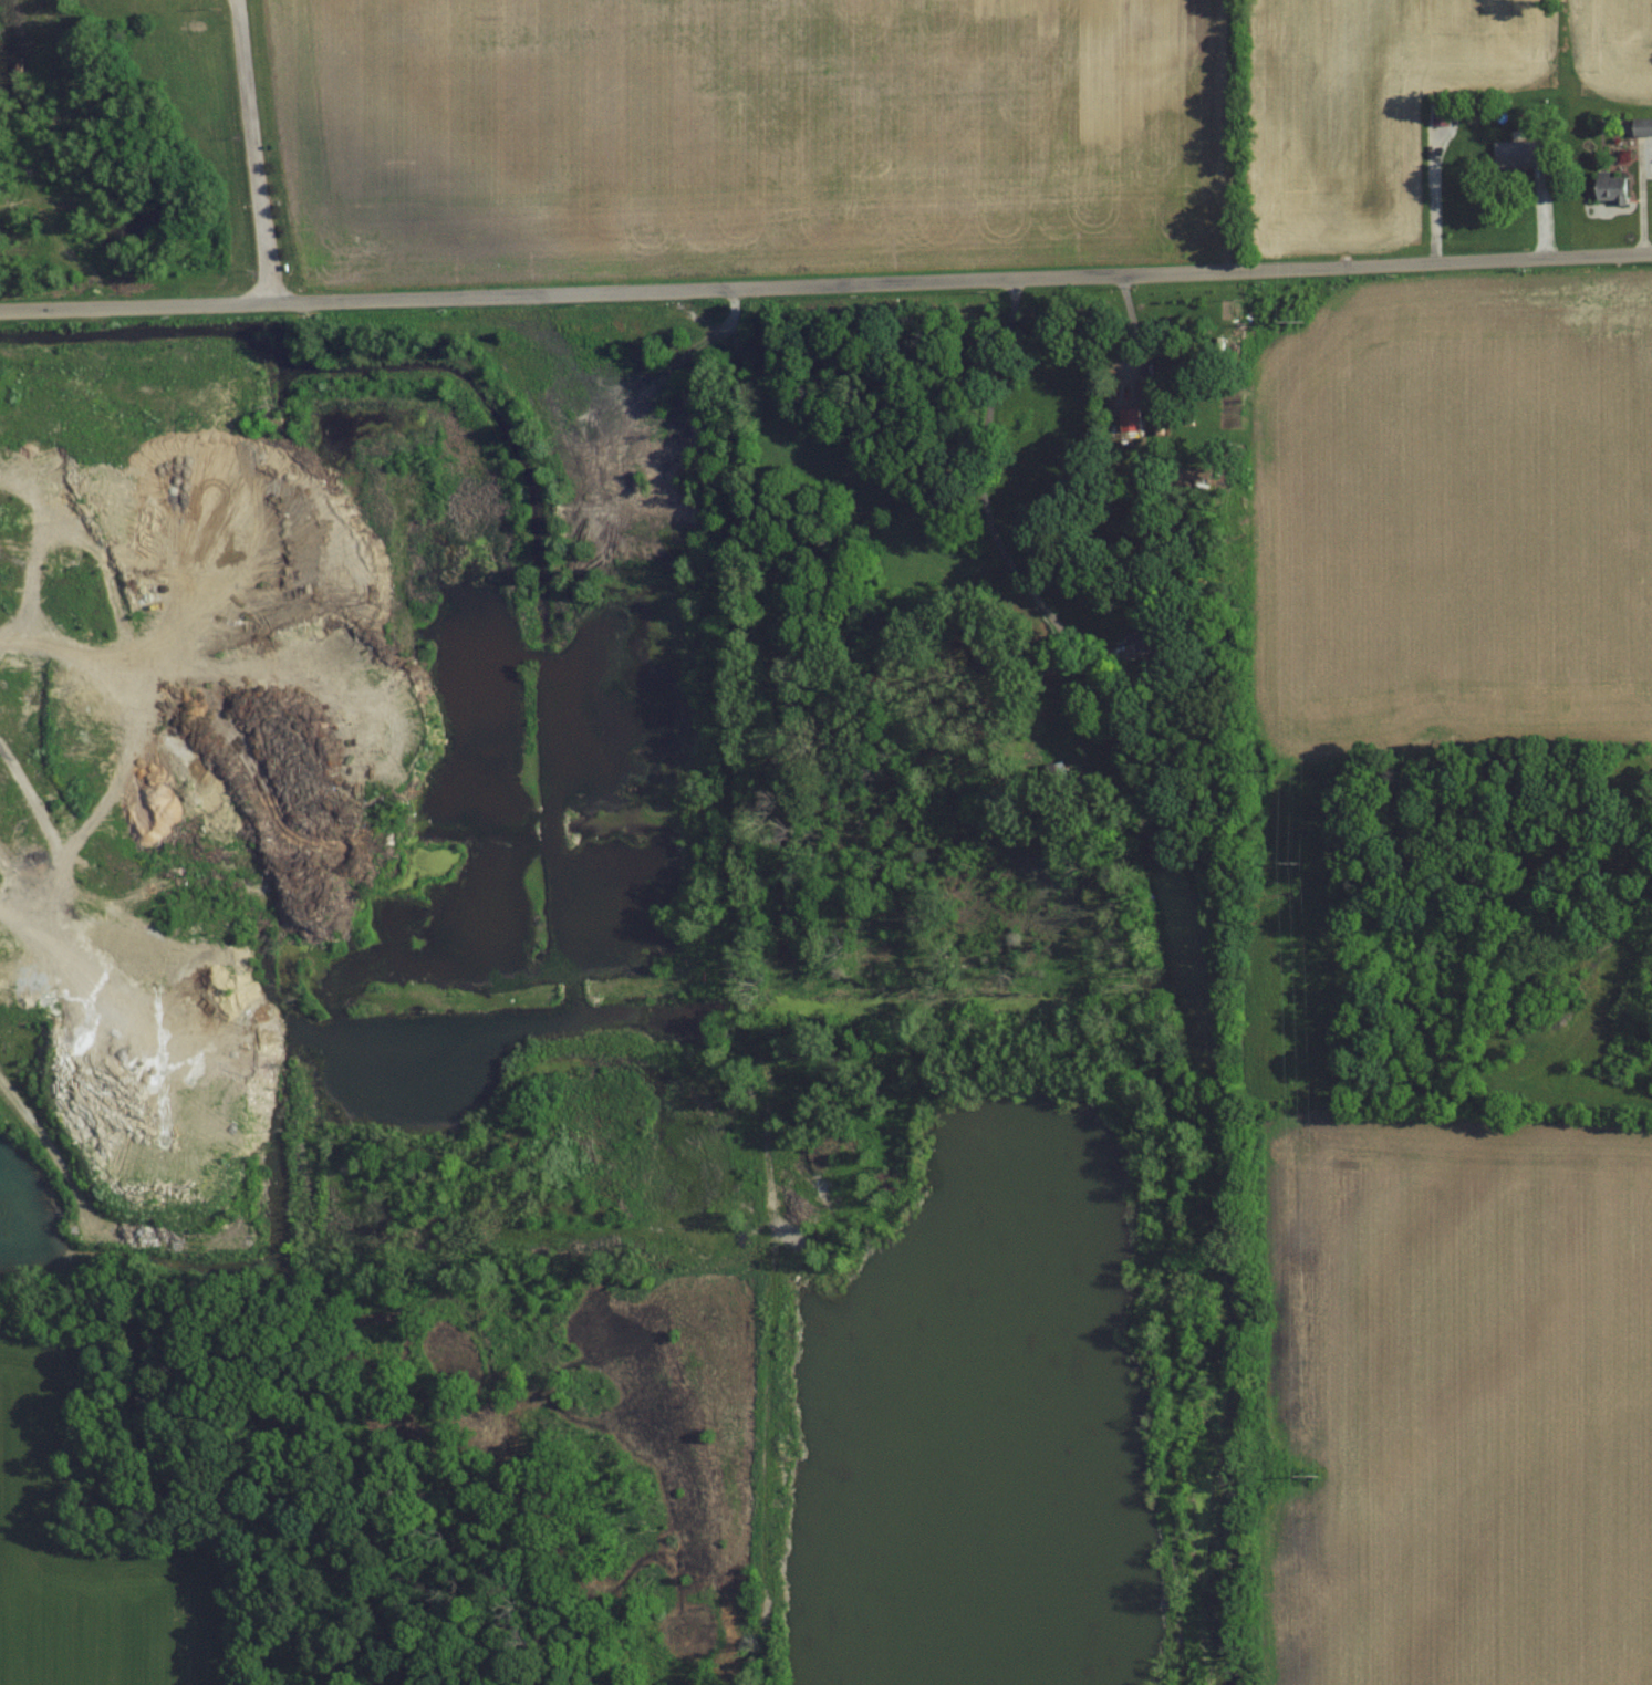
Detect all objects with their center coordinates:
building: (1644, 144)
road: (251, 148)
building: (1520, 153)
building: (1611, 187)
road: (825, 279)
power tower: (1316, 322)
building: (1165, 385)
road: (979, 486)
building: (1150, 635)
power tower: (1313, 866)
quarry: (568, 978)
building: (831, 1071)
power tower: (1320, 1477)
crop: (91, 1563)

